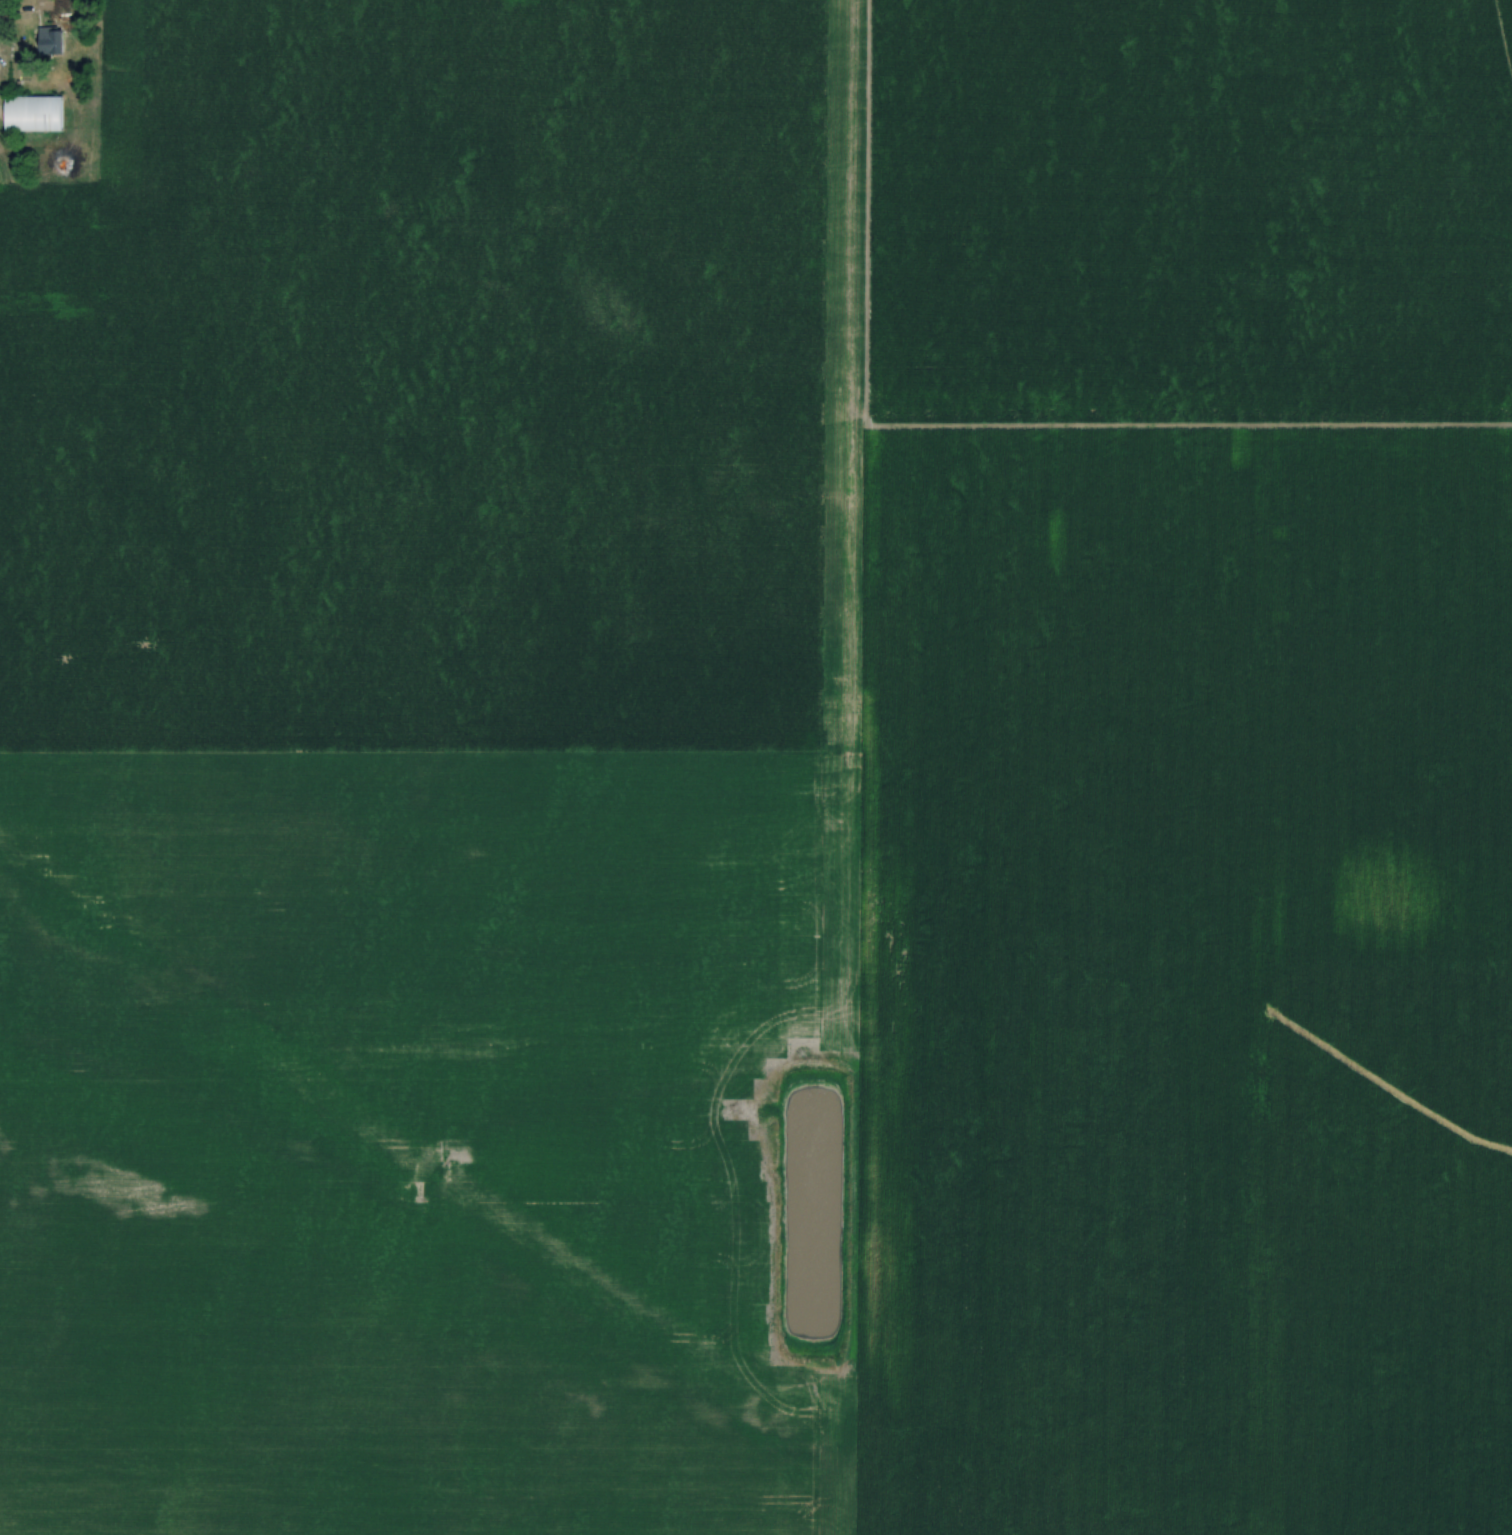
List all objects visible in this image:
building: (49, 40)
building: (32, 113)
building: (52, 152)

